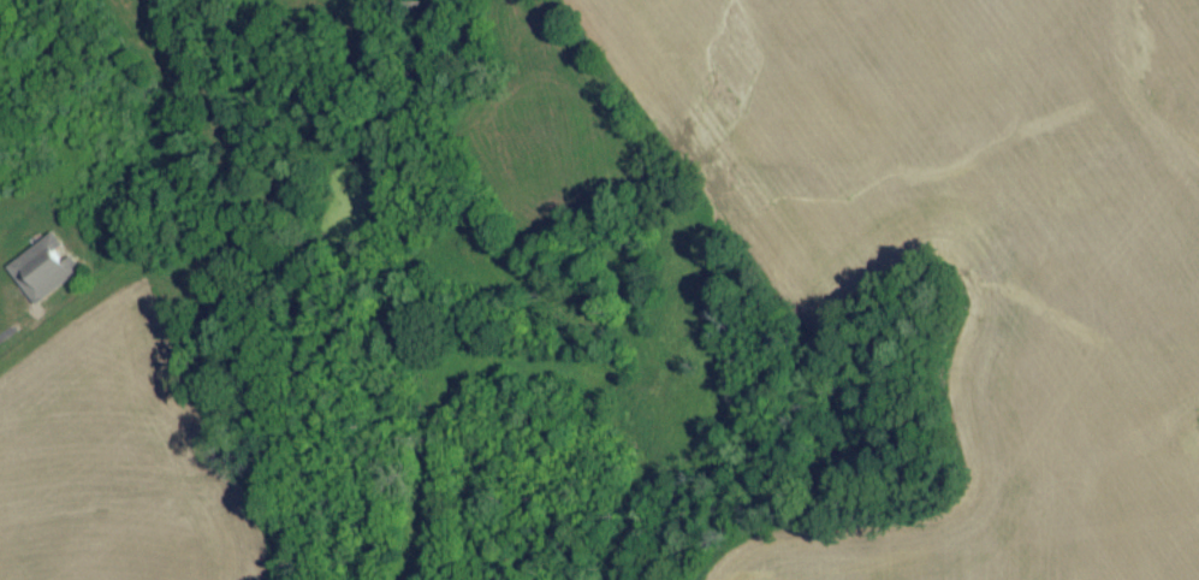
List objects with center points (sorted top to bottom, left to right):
building: (43, 276)
road: (46, 321)

